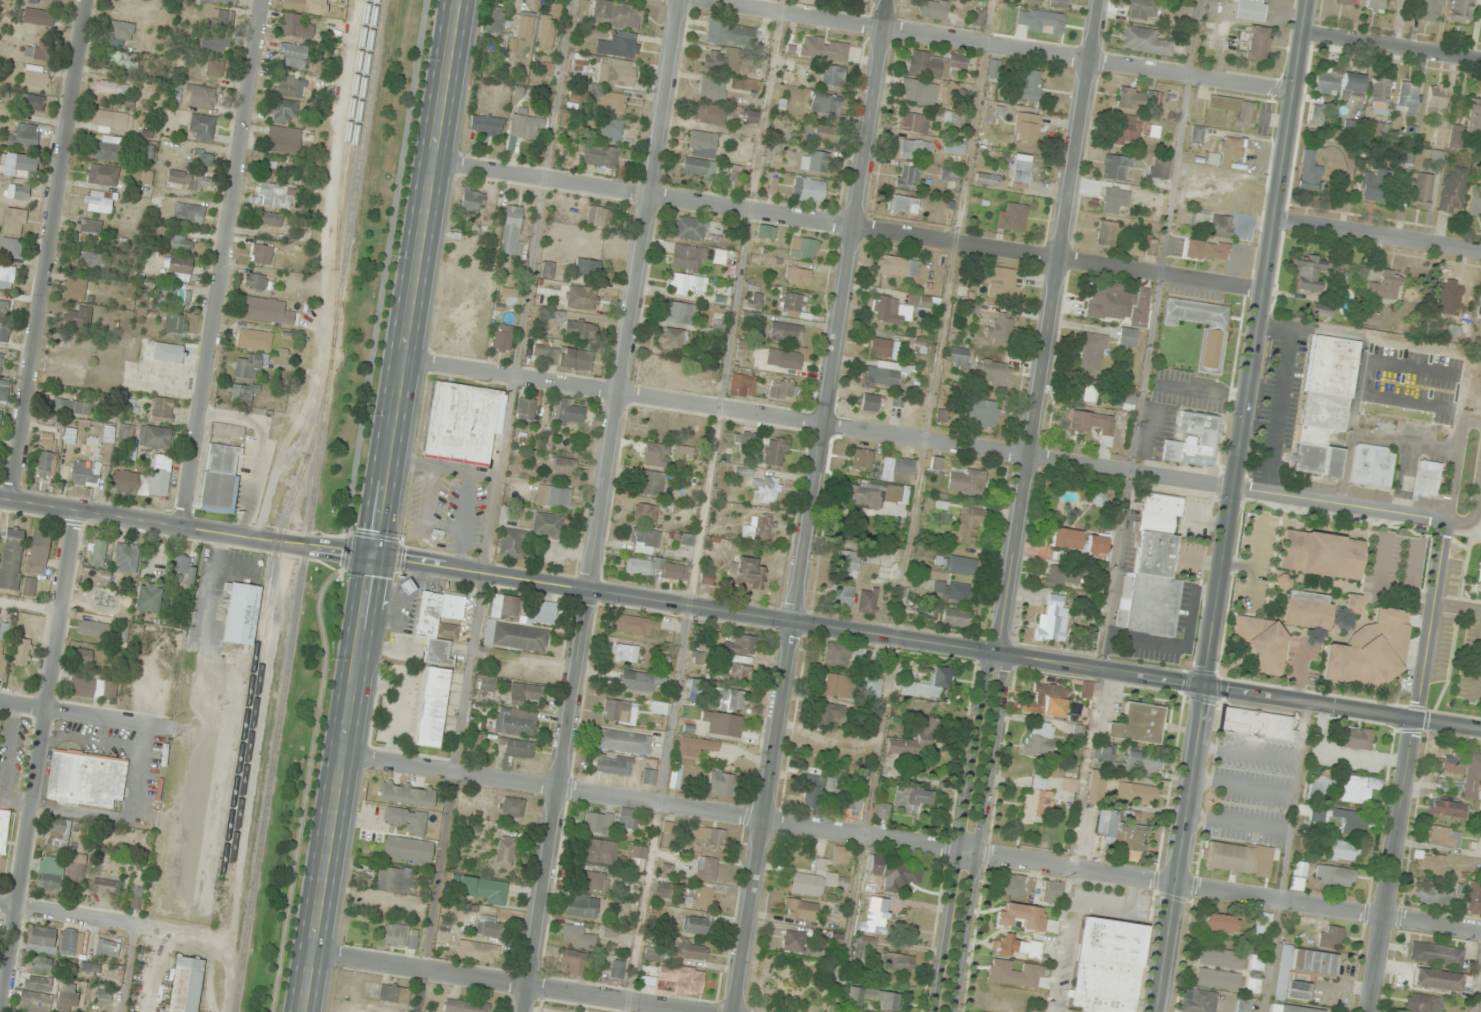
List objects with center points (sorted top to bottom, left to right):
building: (45, 1)
building: (219, 1)
building: (1344, 1)
building: (1050, 3)
building: (1378, 4)
building: (305, 5)
building: (933, 9)
building: (1142, 9)
building: (1250, 9)
building: (1431, 10)
building: (1461, 10)
building: (616, 13)
building: (976, 16)
building: (38, 17)
building: (221, 18)
building: (496, 20)
building: (1048, 22)
building: (526, 25)
building: (295, 26)
building: (121, 30)
building: (731, 33)
building: (546, 34)
building: (1144, 41)
building: (1257, 43)
building: (213, 44)
building: (619, 44)
road: (991, 46)
road: (1392, 46)
building: (820, 49)
building: (36, 52)
building: (292, 54)
building: (721, 59)
building: (123, 60)
building: (580, 62)
building: (933, 63)
building: (214, 67)
building: (617, 72)
building: (833, 75)
building: (36, 76)
building: (1325, 81)
building: (287, 85)
building: (1031, 85)
building: (1352, 85)
building: (113, 87)
building: (712, 87)
building: (918, 91)
building: (200, 96)
building: (1407, 97)
building: (1139, 99)
building: (1436, 99)
building: (613, 102)
building: (27, 103)
building: (825, 106)
building: (1236, 110)
building: (283, 111)
building: (710, 113)
building: (750, 116)
building: (1475, 116)
building: (113, 120)
building: (915, 122)
building: (488, 124)
building: (525, 126)
building: (201, 127)
building: (1027, 127)
building: (1129, 129)
building: (611, 130)
building: (1152, 130)
building: (1442, 132)
building: (819, 133)
building: (1197, 133)
building: (1455, 135)
building: (24, 136)
building: (283, 139)
building: (702, 144)
building: (107, 148)
building: (915, 149)
building: (1230, 150)
building: (202, 157)
building: (601, 158)
building: (814, 161)
building: (18, 164)
building: (1116, 167)
building: (698, 168)
building: (1157, 168)
building: (278, 169)
building: (1020, 171)
building: (1310, 172)
building: (949, 173)
building: (102, 174)
building: (909, 177)
building: (987, 178)
building: (1372, 188)
building: (809, 189)
building: (1453, 189)
building: (1422, 190)
building: (18, 191)
building: (269, 194)
building: (1114, 200)
building: (99, 201)
building: (473, 201)
building: (1474, 201)
building: (903, 204)
building: (189, 213)
building: (598, 217)
building: (269, 218)
building: (1013, 218)
building: (14, 221)
building: (1221, 226)
building: (690, 228)
road: (848, 228)
building: (89, 230)
building: (513, 230)
building: (765, 232)
building: (1107, 232)
road: (1378, 235)
building: (181, 242)
building: (11, 246)
building: (804, 248)
road: (48, 250)
building: (1215, 251)
building: (262, 254)
building: (688, 257)
building: (93, 260)
road: (221, 264)
building: (587, 266)
building: (898, 266)
building: (177, 267)
building: (548, 269)
building: (1308, 272)
building: (6, 276)
building: (797, 276)
building: (256, 281)
building: (1000, 281)
building: (687, 283)
building: (1385, 286)
building: (75, 288)
building: (510, 294)
building: (174, 296)
building: (581, 297)
building: (756, 300)
building: (792, 302)
building: (1118, 303)
building: (3, 305)
building: (904, 308)
building: (1321, 309)
building: (266, 310)
building: (680, 313)
building: (77, 316)
building: (1372, 318)
building: (572, 325)
building: (175, 326)
building: (998, 328)
building: (4, 331)
building: (786, 332)
building: (503, 336)
building: (1127, 337)
building: (254, 339)
building: (672, 339)
building: (882, 347)
building: (744, 349)
building: (1211, 349)
building: (168, 352)
building: (1093, 353)
building: (562, 356)
building: (958, 357)
building: (784, 358)
building: (1, 362)
building: (250, 365)
building: (68, 371)
building: (993, 372)
building: (887, 374)
building: (742, 385)
building: (781, 389)
building: (4, 392)
building: (242, 392)
building: (1086, 395)
building: (1129, 400)
building: (871, 402)
building: (1325, 405)
building: (72, 406)
building: (162, 409)
building: (526, 409)
building: (0, 411)
building: (569, 412)
building: (983, 412)
building: (461, 422)
building: (1093, 425)
building: (69, 435)
building: (126, 436)
building: (158, 437)
road: (925, 440)
building: (1194, 441)
building: (684, 450)
building: (774, 451)
building: (656, 454)
building: (861, 459)
building: (43, 464)
building: (87, 465)
building: (564, 466)
building: (1371, 466)
building: (898, 469)
building: (145, 478)
building: (221, 478)
building: (1423, 480)
building: (966, 481)
building: (651, 482)
building: (766, 489)
road: (1450, 491)
building: (874, 494)
building: (553, 496)
road: (603, 505)
railway: (311, 506)
road: (382, 506)
road: (812, 506)
road: (1022, 506)
road: (1231, 506)
building: (645, 512)
building: (548, 525)
building: (968, 525)
building: (760, 527)
building: (1067, 538)
building: (645, 541)
building: (512, 544)
building: (1096, 546)
building: (38, 552)
building: (97, 552)
building: (1321, 554)
building: (11, 557)
building: (125, 557)
traffic signals: (374, 557)
building: (847, 563)
building: (961, 565)
building: (185, 569)
building: (638, 570)
building: (1152, 571)
building: (747, 572)
building: (1054, 578)
building: (1479, 580)
building: (29, 586)
building: (406, 586)
building: (951, 590)
building: (95, 596)
building: (148, 597)
building: (842, 597)
building: (867, 600)
building: (1352, 604)
road: (1456, 605)
building: (1304, 606)
building: (505, 607)
railway: (267, 611)
building: (241, 612)
building: (544, 612)
road: (740, 614)
building: (955, 617)
building: (1052, 620)
building: (439, 624)
building: (635, 624)
traffic signals: (795, 624)
building: (95, 630)
building: (515, 637)
building: (1262, 643)
building: (1371, 650)
building: (21, 651)
building: (625, 653)
building: (837, 655)
building: (740, 656)
building: (3, 657)
building: (84, 658)
road: (1478, 671)
building: (643, 681)
building: (487, 683)
building: (836, 685)
building: (93, 686)
building: (928, 686)
traffic signals: (1203, 688)
building: (696, 690)
building: (1086, 690)
building: (524, 694)
building: (729, 699)
building: (1047, 700)
building: (432, 707)
building: (617, 710)
building: (826, 714)
road: (88, 716)
building: (515, 722)
building: (724, 724)
building: (1138, 724)
building: (1257, 726)
building: (1356, 738)
building: (623, 741)
building: (1039, 741)
building: (911, 743)
building: (519, 747)
building: (688, 755)
road: (1247, 756)
road: (39, 760)
building: (1142, 763)
building: (1452, 763)
building: (613, 764)
road: (1408, 765)
building: (649, 776)
building: (1473, 777)
building: (86, 779)
building: (721, 783)
building: (1069, 784)
building: (1321, 785)
building: (1449, 786)
building: (1098, 789)
road: (1243, 789)
building: (1357, 789)
building: (815, 790)
building: (1137, 793)
parking lot: (1253, 793)
building: (406, 795)
building: (911, 799)
road: (1296, 802)
building: (1036, 803)
building: (512, 807)
building: (1449, 808)
building: (882, 810)
building: (628, 818)
building: (405, 820)
building: (598, 822)
road: (1237, 827)
building: (4, 830)
building: (59, 831)
building: (1444, 836)
building: (710, 838)
building: (1129, 839)
road: (912, 843)
building: (1343, 850)
building: (504, 851)
building: (599, 852)
building: (841, 855)
building: (1228, 857)
building: (638, 859)
building: (1433, 863)
building: (76, 868)
building: (706, 868)
building: (895, 869)
building: (49, 875)
building: (1334, 875)
building: (1298, 877)
building: (393, 879)
building: (594, 881)
building: (816, 883)
building: (104, 885)
building: (1013, 885)
building: (1053, 888)
building: (482, 890)
building: (1434, 896)
building: (702, 897)
building: (1474, 897)
building: (136, 898)
building: (582, 906)
building: (800, 909)
building: (875, 915)
road: (70, 917)
building: (1263, 923)
building: (698, 924)
building: (1220, 924)
building: (487, 925)
building: (401, 936)
building: (577, 936)
building: (1330, 937)
building: (42, 940)
building: (793, 941)
building: (867, 942)
building: (71, 943)
building: (1007, 945)
building: (105, 949)
building: (477, 951)
building: (689, 951)
building: (1034, 951)
building: (653, 954)
building: (1436, 954)
building: (1221, 958)
building: (572, 960)
building: (896, 963)
building: (43, 965)
building: (1107, 966)
building: (89, 967)
building: (1302, 971)
building: (617, 973)
building: (1254, 974)
building: (682, 979)
building: (1217, 979)
building: (1437, 980)
road: (497, 983)
building: (186, 985)
building: (36, 994)
building: (394, 994)
building: (104, 996)
building: (68, 998)
building: (874, 998)
building: (1198, 1001)
building: (1422, 1003)
building: (1242, 1005)
building: (465, 1006)
building: (1291, 1008)

